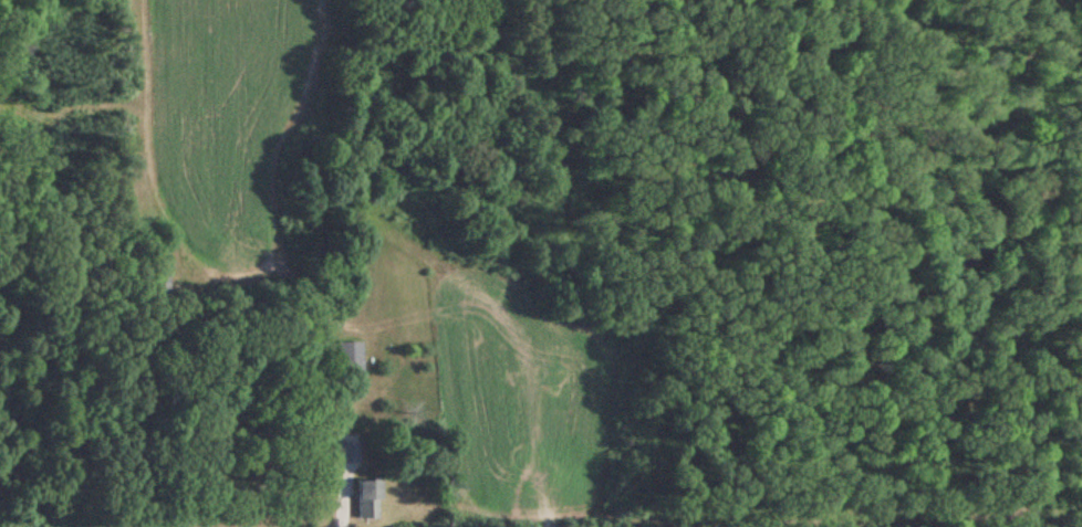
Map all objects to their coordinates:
road: (874, 263)
road: (1073, 263)

